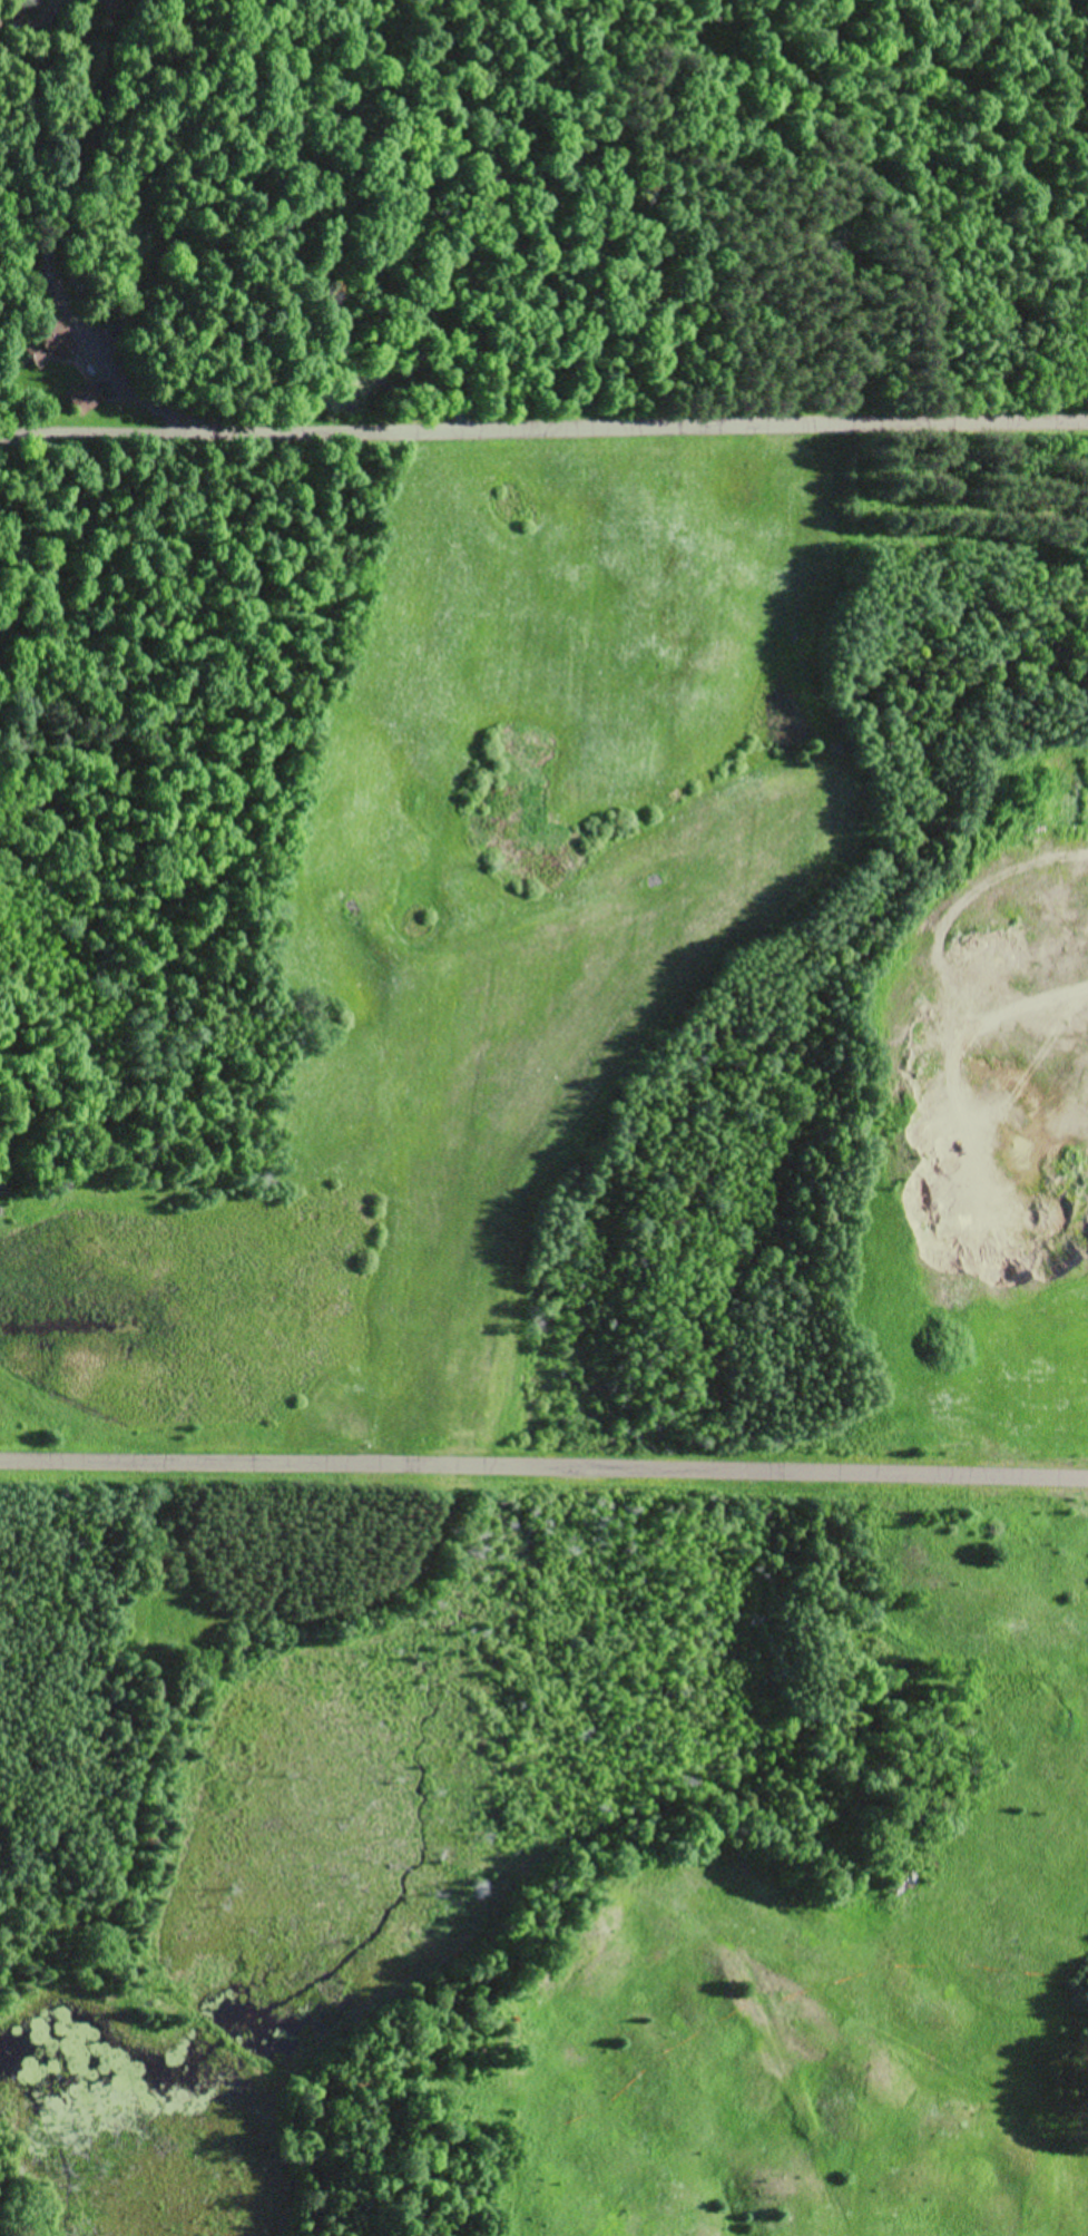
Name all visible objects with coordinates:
building: (22, 8)
road: (62, 160)
building: (48, 346)
building: (85, 402)
road: (40, 430)
road: (609, 459)
road: (8, 512)
road: (543, 1469)

